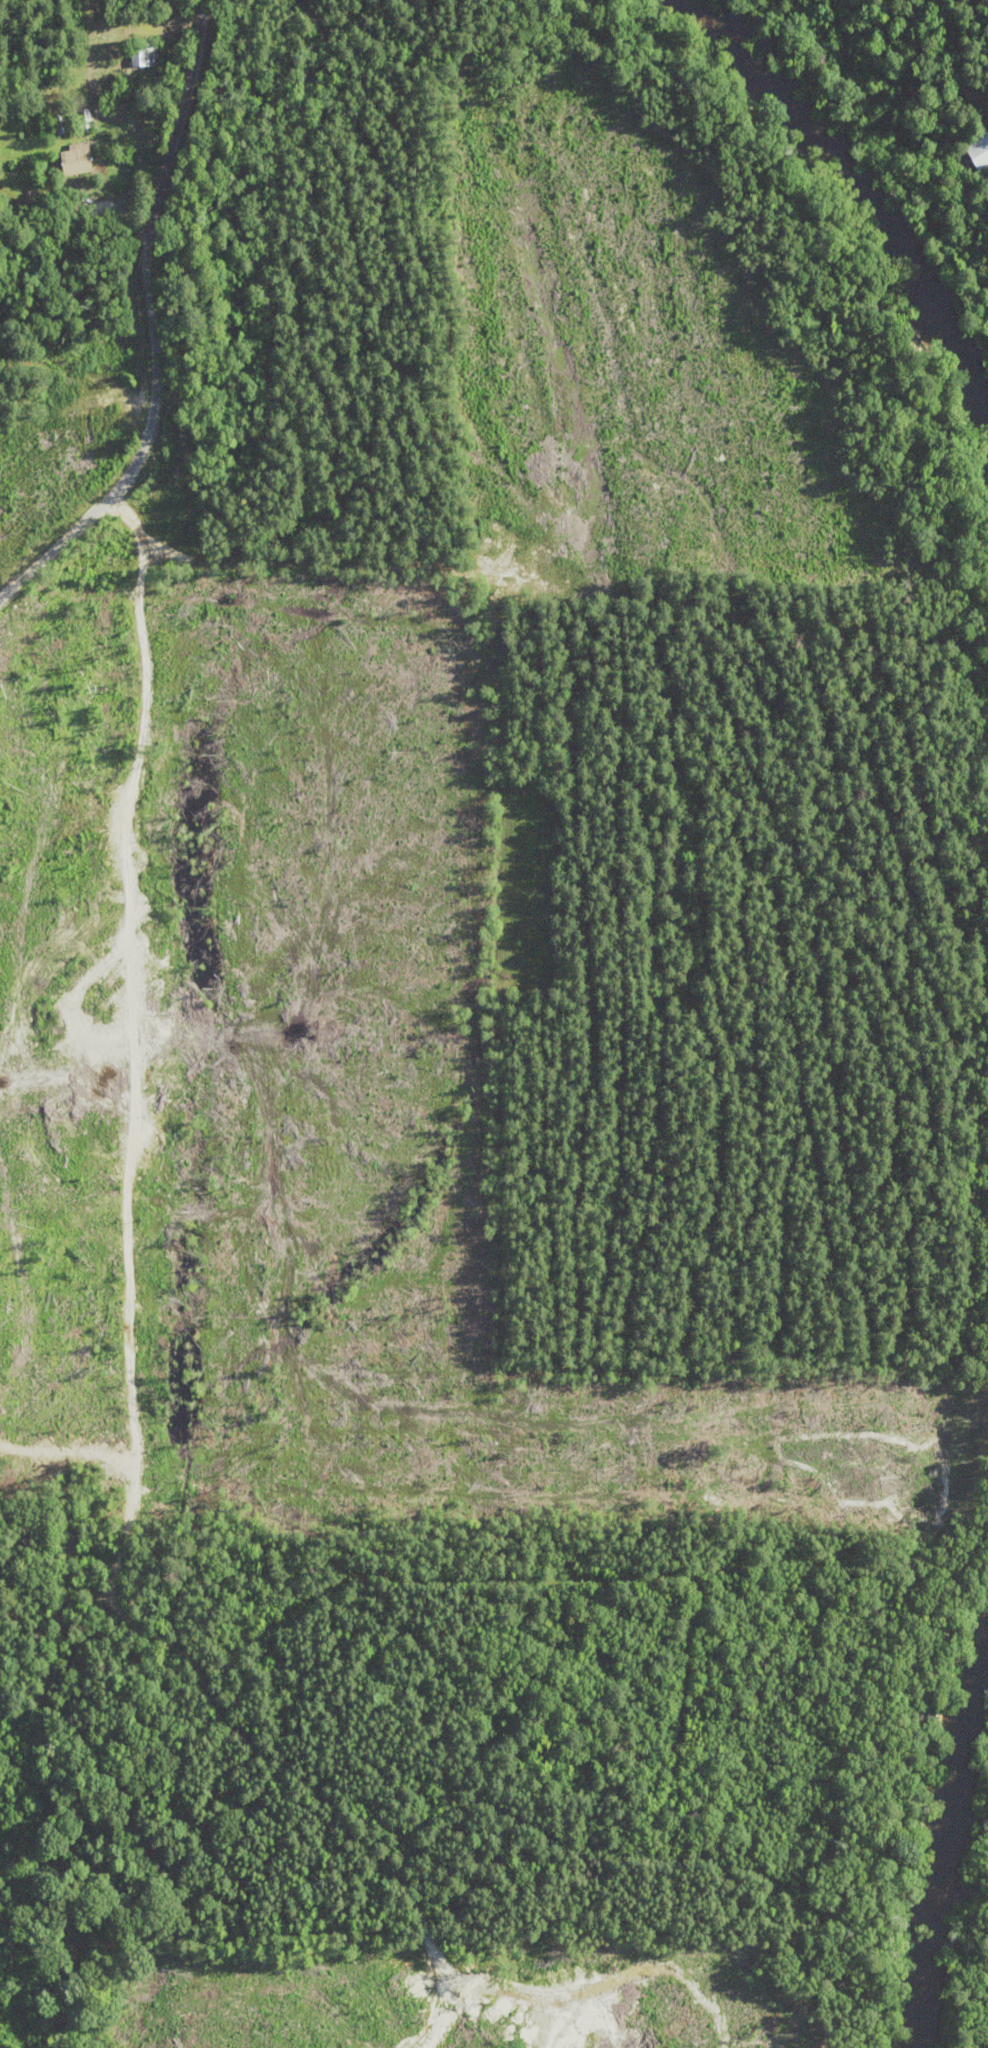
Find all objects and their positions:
building: (143, 52)
building: (59, 122)
building: (981, 150)
building: (77, 159)
river: (870, 180)
road: (149, 325)
road: (337, 433)
river: (937, 1874)

